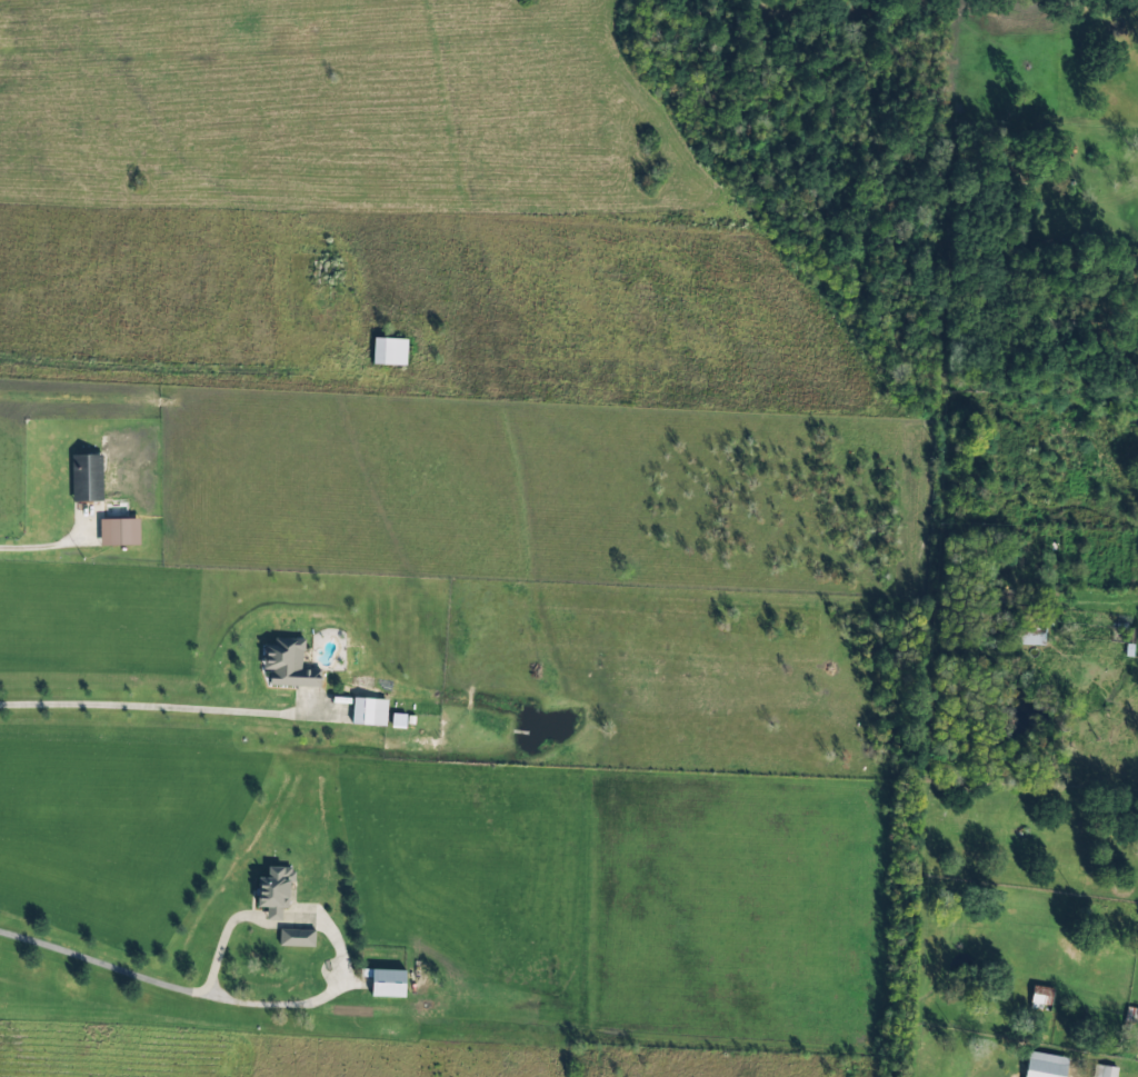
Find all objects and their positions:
building: (389, 351)
building: (87, 478)
building: (120, 531)
building: (1032, 631)
building: (289, 664)
road: (154, 705)
building: (368, 711)
building: (398, 720)
building: (274, 891)
building: (297, 937)
building: (388, 983)
building: (1041, 995)
building: (1131, 1016)
building: (1045, 1065)
building: (1105, 1070)

